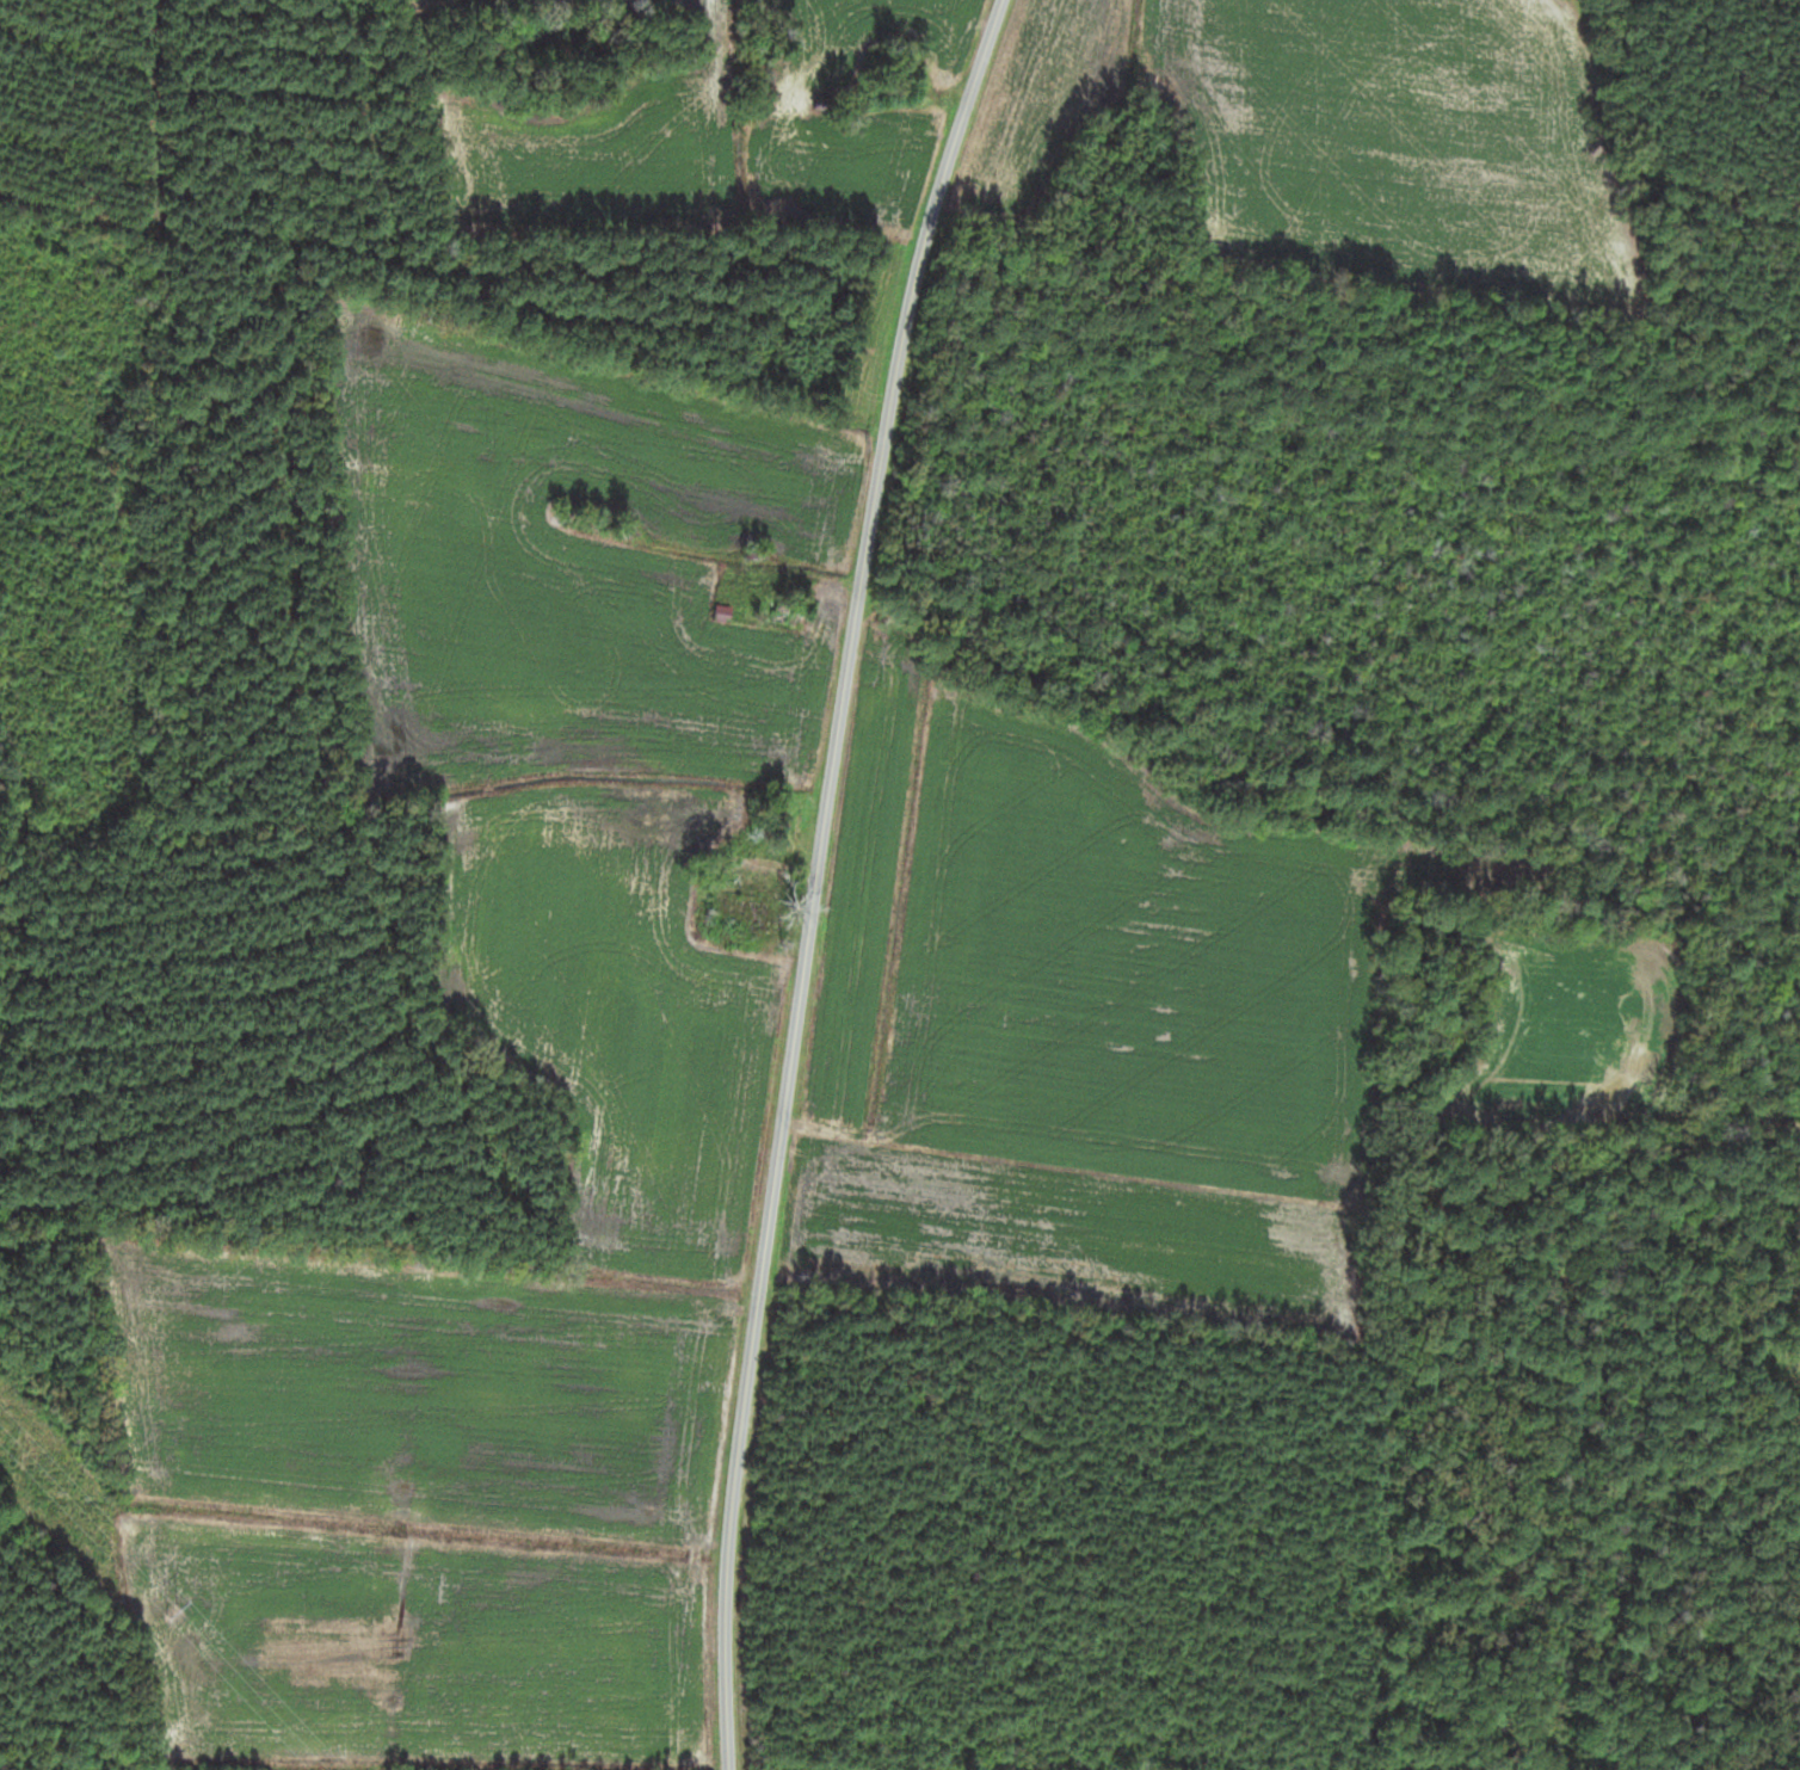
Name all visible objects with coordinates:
building: (793, 611)
road: (816, 877)
power tower: (184, 1608)

